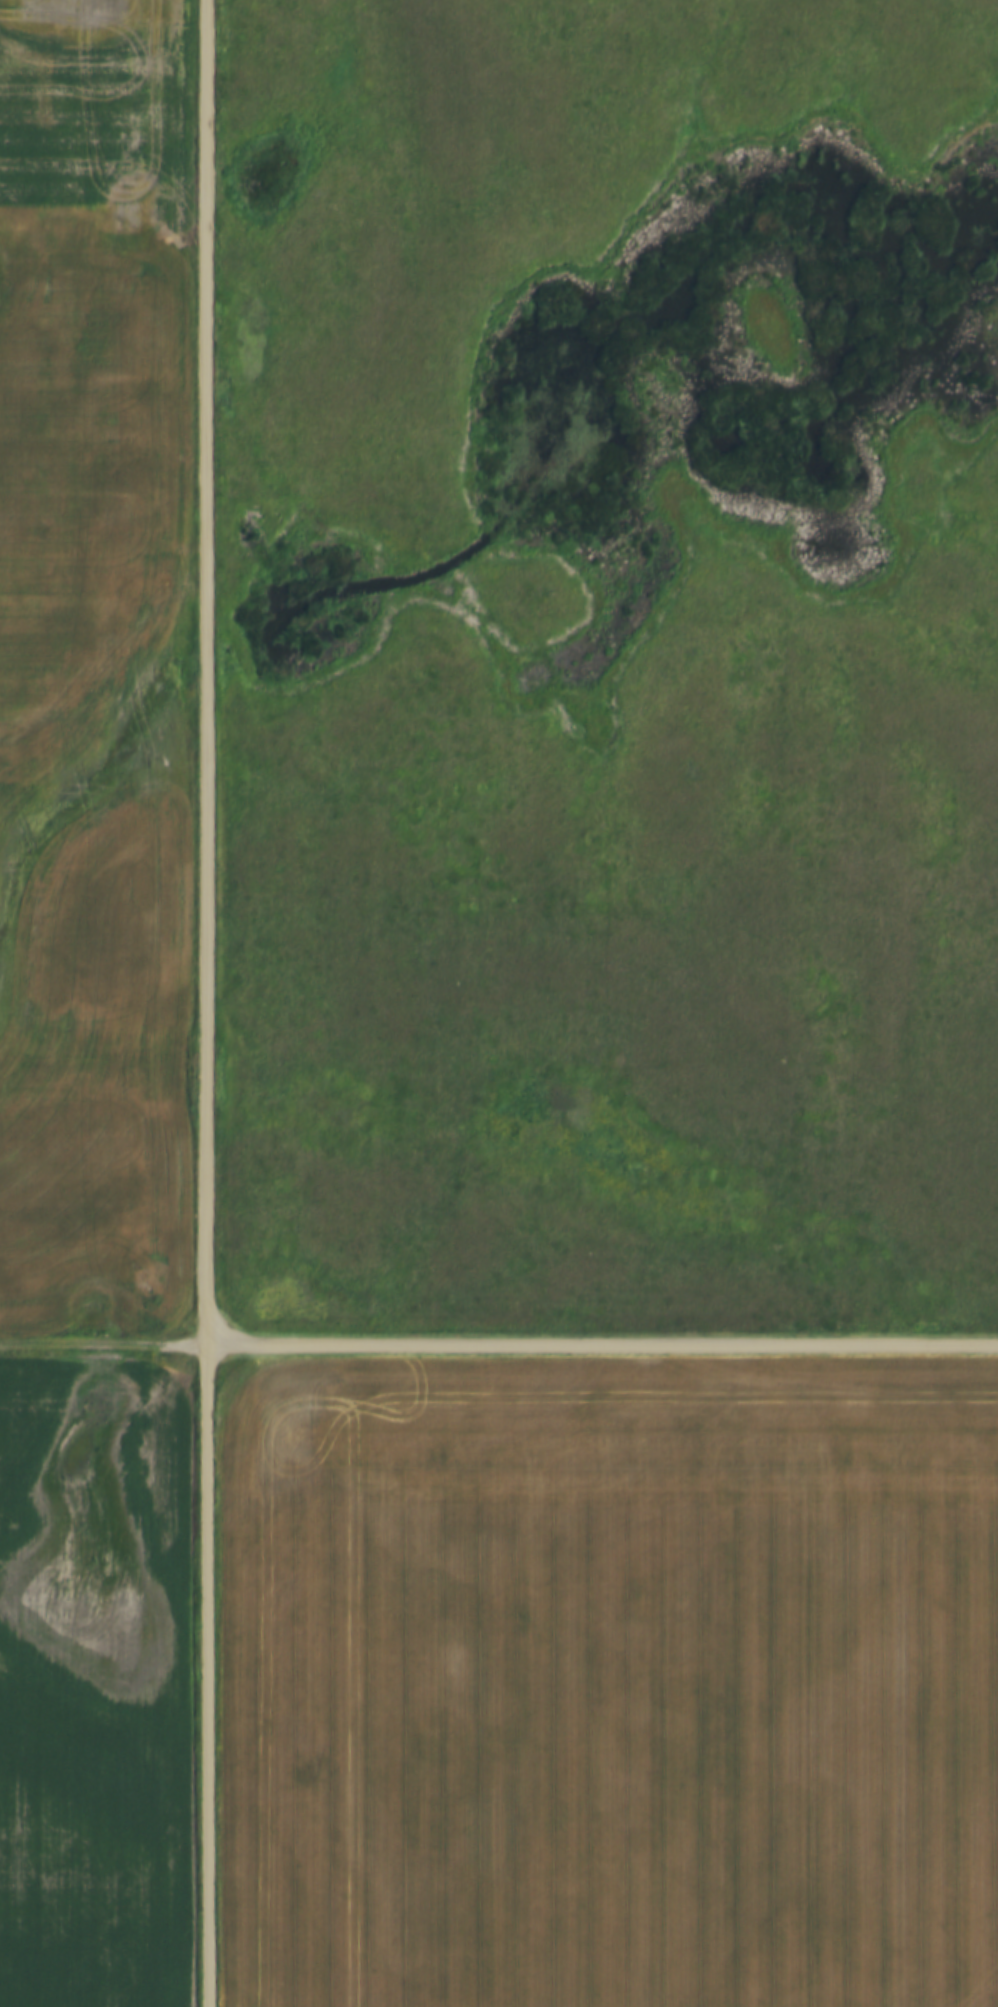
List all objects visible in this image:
road: (204, 673)
road: (103, 1347)
road: (602, 1347)
road: (206, 1677)

